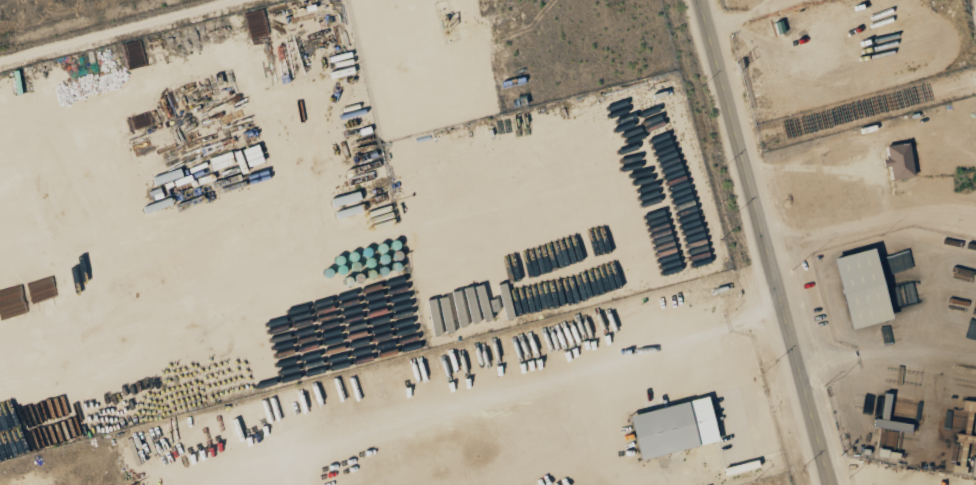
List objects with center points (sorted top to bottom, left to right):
road: (747, 13)
building: (900, 161)
road: (876, 191)
road: (766, 242)
building: (864, 288)
road: (494, 395)
building: (675, 428)
building: (974, 469)

